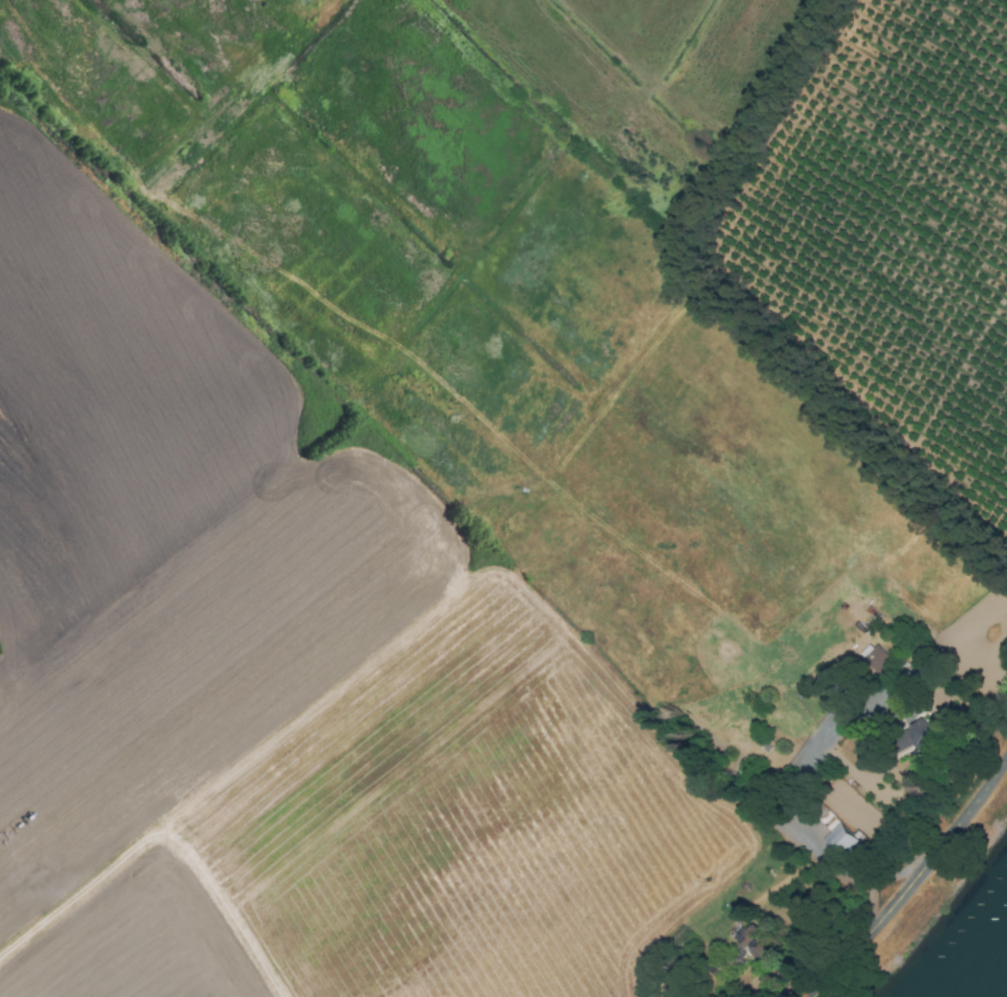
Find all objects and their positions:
crop: (493, 488)
building: (916, 734)
building: (836, 842)
road: (914, 883)

